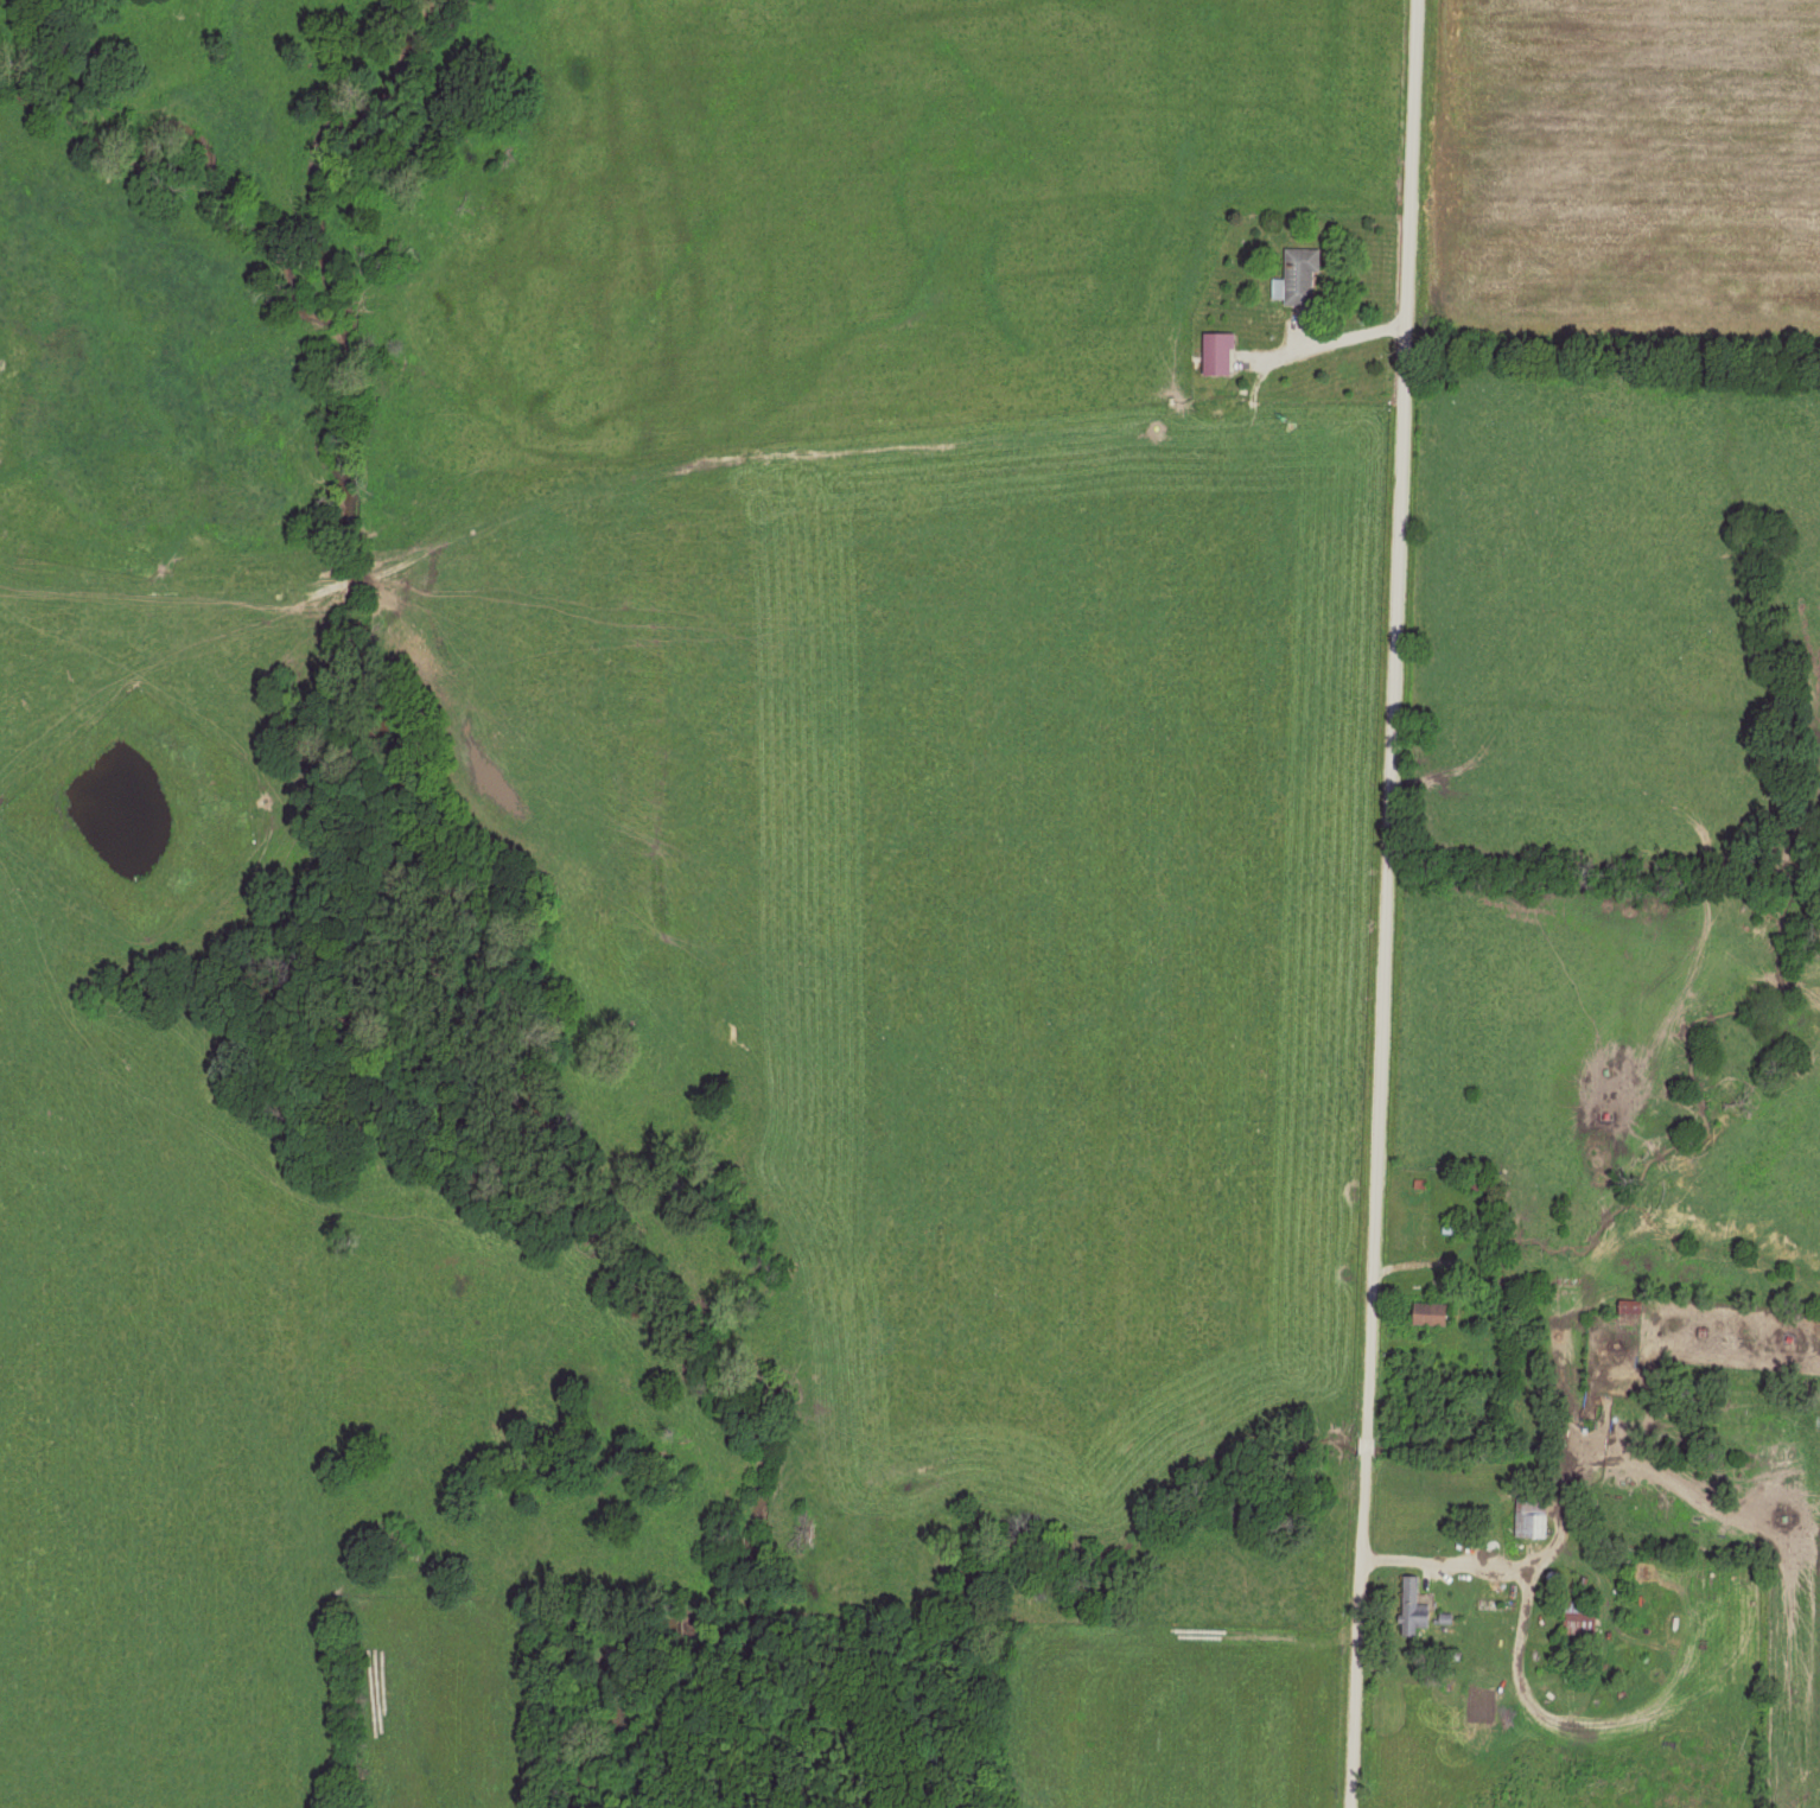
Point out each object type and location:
building: (1297, 278)
road: (1332, 338)
building: (1216, 354)
road: (1369, 902)
building: (1431, 1313)
building: (1629, 1314)
building: (1532, 1513)
building: (1413, 1609)
building: (1579, 1618)

